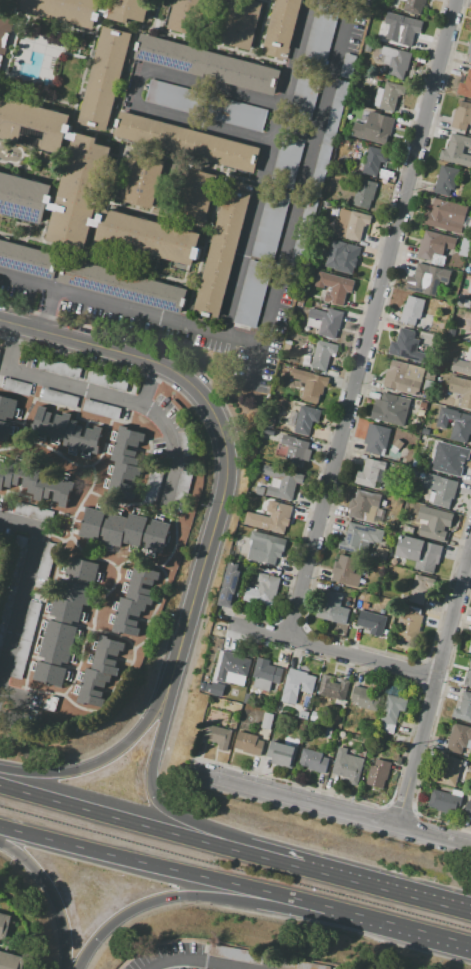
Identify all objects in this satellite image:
road: (267, 0)
building: (413, 6)
building: (88, 10)
road: (5, 11)
road: (155, 16)
building: (187, 16)
road: (47, 22)
building: (241, 23)
parking lot: (356, 25)
building: (372, 26)
building: (281, 28)
road: (261, 29)
building: (321, 32)
parking lot: (321, 32)
building: (402, 32)
building: (4, 35)
road: (196, 44)
building: (469, 50)
building: (395, 61)
building: (205, 64)
building: (348, 66)
parking lot: (348, 66)
building: (103, 78)
road: (123, 83)
road: (211, 84)
building: (465, 85)
road: (134, 87)
building: (305, 91)
parking lot: (305, 91)
road: (39, 95)
building: (388, 96)
building: (172, 97)
parking lot: (172, 97)
building: (236, 115)
parking lot: (236, 115)
building: (462, 116)
building: (32, 124)
road: (199, 128)
building: (374, 129)
building: (329, 137)
parking lot: (329, 137)
building: (187, 142)
building: (457, 150)
road: (65, 151)
road: (166, 154)
building: (374, 160)
building: (286, 164)
parking lot: (286, 164)
road: (265, 165)
road: (29, 169)
road: (304, 171)
building: (143, 178)
building: (445, 180)
building: (78, 191)
building: (194, 194)
building: (364, 194)
building: (25, 198)
building: (445, 216)
building: (270, 224)
parking lot: (270, 224)
building: (352, 225)
building: (303, 233)
parking lot: (303, 233)
building: (148, 237)
road: (21, 238)
road: (204, 246)
building: (435, 246)
building: (222, 247)
building: (464, 247)
building: (341, 257)
building: (27, 260)
road: (129, 268)
building: (419, 278)
building: (455, 278)
building: (122, 285)
building: (334, 287)
parking lot: (15, 291)
building: (252, 294)
parking lot: (252, 294)
building: (459, 301)
road: (110, 303)
building: (470, 303)
road: (48, 310)
building: (411, 310)
building: (426, 319)
road: (370, 320)
building: (325, 321)
parking lot: (149, 328)
building: (470, 328)
building: (441, 332)
road: (240, 337)
parking lot: (273, 342)
building: (402, 343)
road: (97, 347)
building: (322, 354)
road: (254, 365)
building: (461, 366)
building: (59, 369)
building: (429, 375)
building: (403, 376)
building: (108, 381)
building: (307, 384)
road: (146, 385)
building: (427, 385)
building: (16, 387)
building: (461, 390)
road: (102, 394)
building: (59, 398)
building: (422, 405)
building: (389, 409)
building: (100, 410)
building: (421, 412)
building: (7, 419)
building: (306, 419)
building: (270, 424)
building: (455, 424)
building: (71, 430)
building: (424, 431)
building: (268, 432)
building: (413, 437)
building: (376, 439)
building: (185, 444)
building: (398, 444)
building: (128, 448)
building: (295, 451)
building: (449, 458)
building: (371, 474)
building: (281, 482)
building: (31, 483)
building: (153, 485)
building: (182, 489)
building: (440, 489)
building: (258, 490)
building: (364, 505)
building: (32, 512)
building: (271, 518)
building: (437, 524)
building: (389, 525)
building: (127, 529)
building: (407, 530)
building: (359, 536)
road: (209, 538)
building: (268, 546)
building: (419, 552)
building: (381, 553)
building: (0, 554)
building: (15, 557)
building: (46, 562)
building: (345, 570)
building: (230, 585)
building: (266, 588)
building: (420, 588)
road: (25, 590)
building: (135, 600)
building: (364, 605)
building: (3, 608)
building: (331, 608)
building: (65, 622)
building: (371, 622)
building: (408, 626)
building: (386, 633)
building: (25, 641)
building: (470, 647)
road: (337, 653)
building: (101, 664)
building: (232, 668)
building: (264, 674)
building: (468, 678)
building: (297, 683)
road: (433, 683)
building: (202, 686)
building: (333, 688)
building: (216, 689)
building: (366, 698)
building: (249, 699)
building: (464, 708)
building: (391, 713)
building: (303, 714)
building: (314, 716)
building: (266, 721)
building: (217, 736)
building: (459, 739)
building: (249, 744)
building: (282, 754)
building: (313, 761)
road: (95, 763)
building: (347, 766)
building: (448, 772)
building: (378, 774)
building: (444, 801)
building: (468, 809)
road: (336, 810)
road: (178, 815)
road: (150, 827)
road: (161, 868)
road: (386, 886)
road: (51, 896)
road: (185, 896)
building: (7, 928)
road: (396, 928)
building: (232, 953)
building: (10, 961)
road: (197, 962)
building: (295, 964)

